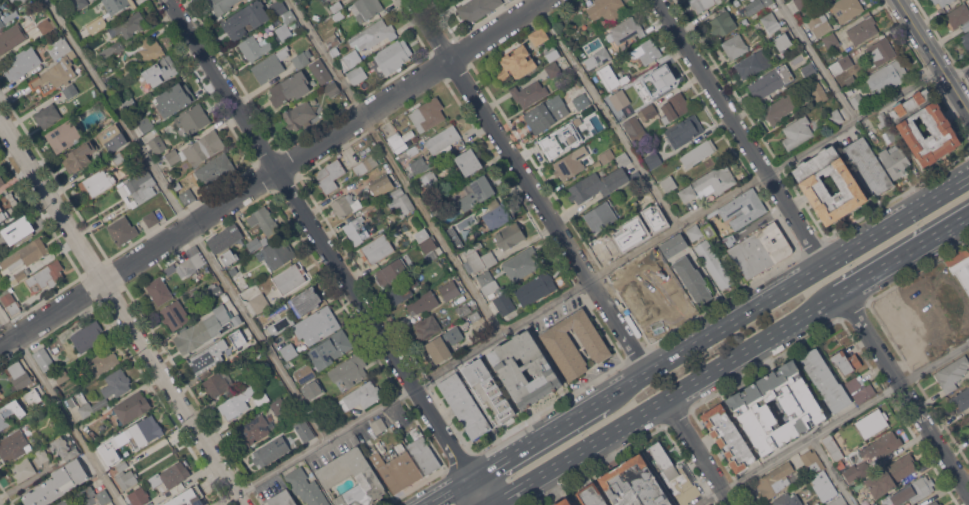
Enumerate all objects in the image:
building: (13, 1)
building: (20, 1)
building: (828, 1)
building: (942, 2)
building: (80, 3)
building: (801, 3)
building: (702, 4)
building: (119, 5)
building: (222, 5)
building: (757, 5)
building: (336, 6)
building: (278, 8)
building: (366, 9)
building: (477, 9)
building: (845, 9)
building: (604, 11)
building: (1, 13)
building: (958, 15)
building: (338, 16)
building: (245, 19)
building: (1, 22)
building: (770, 22)
building: (722, 23)
building: (968, 23)
building: (46, 25)
building: (97, 25)
building: (285, 25)
building: (818, 25)
building: (863, 28)
building: (626, 30)
building: (55, 32)
building: (124, 32)
building: (373, 35)
building: (539, 35)
building: (11, 38)
building: (966, 39)
building: (332, 40)
building: (831, 40)
building: (782, 41)
building: (735, 45)
building: (59, 47)
building: (254, 47)
building: (147, 49)
building: (334, 51)
building: (551, 51)
building: (881, 51)
building: (646, 52)
road: (934, 54)
building: (603, 55)
building: (393, 56)
building: (302, 58)
building: (350, 59)
road: (817, 60)
building: (21, 63)
building: (516, 63)
building: (753, 63)
building: (841, 64)
building: (271, 65)
building: (553, 69)
building: (809, 69)
building: (160, 71)
building: (320, 71)
road: (958, 71)
building: (357, 74)
building: (54, 75)
building: (887, 76)
building: (611, 77)
building: (850, 79)
building: (658, 80)
building: (771, 80)
building: (290, 88)
building: (332, 89)
building: (70, 91)
building: (818, 91)
building: (529, 93)
building: (174, 99)
building: (857, 100)
building: (581, 101)
building: (621, 101)
building: (674, 107)
building: (638, 108)
building: (780, 108)
building: (586, 112)
building: (647, 112)
building: (546, 113)
building: (299, 114)
building: (427, 114)
road: (607, 114)
building: (47, 115)
building: (834, 117)
building: (192, 118)
building: (882, 119)
road: (856, 120)
building: (146, 124)
building: (939, 126)
building: (634, 128)
building: (684, 130)
road: (743, 132)
building: (797, 132)
building: (64, 135)
building: (890, 135)
building: (112, 137)
building: (416, 138)
building: (400, 140)
building: (443, 141)
building: (560, 141)
building: (157, 144)
building: (419, 145)
building: (198, 149)
building: (697, 152)
building: (402, 155)
building: (79, 156)
building: (118, 157)
building: (653, 159)
building: (468, 161)
building: (894, 161)
building: (868, 164)
building: (365, 165)
building: (419, 165)
building: (568, 165)
road: (397, 167)
building: (214, 170)
road: (273, 173)
building: (329, 175)
building: (603, 178)
building: (429, 179)
building: (1, 181)
building: (96, 182)
building: (669, 183)
building: (709, 183)
building: (177, 185)
building: (382, 186)
building: (138, 187)
road: (532, 187)
building: (813, 187)
building: (476, 192)
building: (187, 196)
building: (400, 201)
building: (346, 205)
building: (437, 205)
building: (371, 207)
building: (743, 208)
building: (3, 212)
building: (496, 214)
building: (600, 216)
building: (150, 218)
road: (188, 220)
building: (264, 221)
building: (358, 229)
building: (122, 230)
building: (17, 231)
building: (694, 232)
building: (711, 233)
building: (721, 233)
building: (422, 234)
building: (509, 235)
building: (224, 237)
building: (454, 237)
building: (727, 239)
road: (323, 240)
building: (254, 244)
building: (674, 245)
building: (377, 249)
building: (429, 249)
building: (760, 250)
building: (276, 252)
building: (27, 254)
road: (905, 256)
building: (225, 257)
building: (477, 258)
building: (190, 261)
building: (522, 263)
building: (714, 263)
building: (961, 266)
building: (392, 272)
building: (20, 275)
building: (47, 275)
building: (452, 275)
building: (289, 279)
building: (693, 279)
building: (487, 282)
road: (800, 282)
building: (536, 288)
building: (942, 288)
building: (214, 289)
building: (159, 290)
building: (403, 290)
building: (450, 290)
building: (652, 296)
building: (225, 297)
building: (304, 299)
building: (10, 302)
building: (260, 302)
building: (423, 303)
building: (503, 305)
building: (463, 309)
road: (122, 311)
building: (174, 315)
building: (933, 315)
building: (475, 316)
building: (237, 320)
building: (900, 323)
building: (280, 325)
building: (317, 325)
building: (960, 325)
building: (427, 327)
building: (202, 330)
building: (87, 336)
road: (495, 339)
building: (444, 343)
building: (560, 344)
building: (330, 349)
building: (288, 350)
building: (239, 351)
building: (258, 352)
building: (924, 353)
building: (208, 356)
building: (44, 359)
building: (103, 361)
building: (845, 361)
building: (525, 369)
building: (349, 370)
building: (952, 373)
building: (305, 374)
building: (20, 375)
building: (61, 375)
building: (825, 379)
building: (218, 385)
building: (488, 388)
building: (860, 389)
building: (313, 390)
road: (906, 391)
building: (106, 392)
building: (0, 396)
building: (32, 396)
building: (361, 396)
building: (261, 398)
building: (961, 399)
road: (668, 400)
building: (72, 402)
building: (237, 402)
building: (464, 405)
building: (278, 406)
road: (61, 408)
building: (130, 408)
building: (750, 409)
building: (11, 412)
building: (872, 422)
road: (833, 423)
building: (378, 425)
building: (255, 429)
building: (304, 430)
building: (144, 431)
road: (554, 434)
building: (729, 437)
building: (14, 445)
building: (882, 445)
building: (63, 447)
building: (833, 447)
building: (274, 449)
road: (545, 450)
road: (702, 451)
building: (41, 455)
building: (111, 455)
building: (424, 455)
building: (813, 460)
building: (122, 465)
building: (22, 469)
building: (397, 470)
road: (832, 471)
building: (856, 471)
building: (674, 474)
building: (171, 475)
building: (333, 475)
building: (888, 476)
building: (126, 479)
building: (775, 480)
road: (26, 481)
building: (58, 483)
building: (634, 484)
building: (824, 485)
building: (306, 487)
building: (914, 490)
road: (456, 493)
building: (591, 495)
building: (138, 496)
road: (473, 496)
building: (85, 497)
building: (188, 497)
building: (282, 498)
building: (788, 499)
building: (838, 501)
building: (563, 502)
building: (867, 503)
building: (935, 503)
building: (876, 504)

